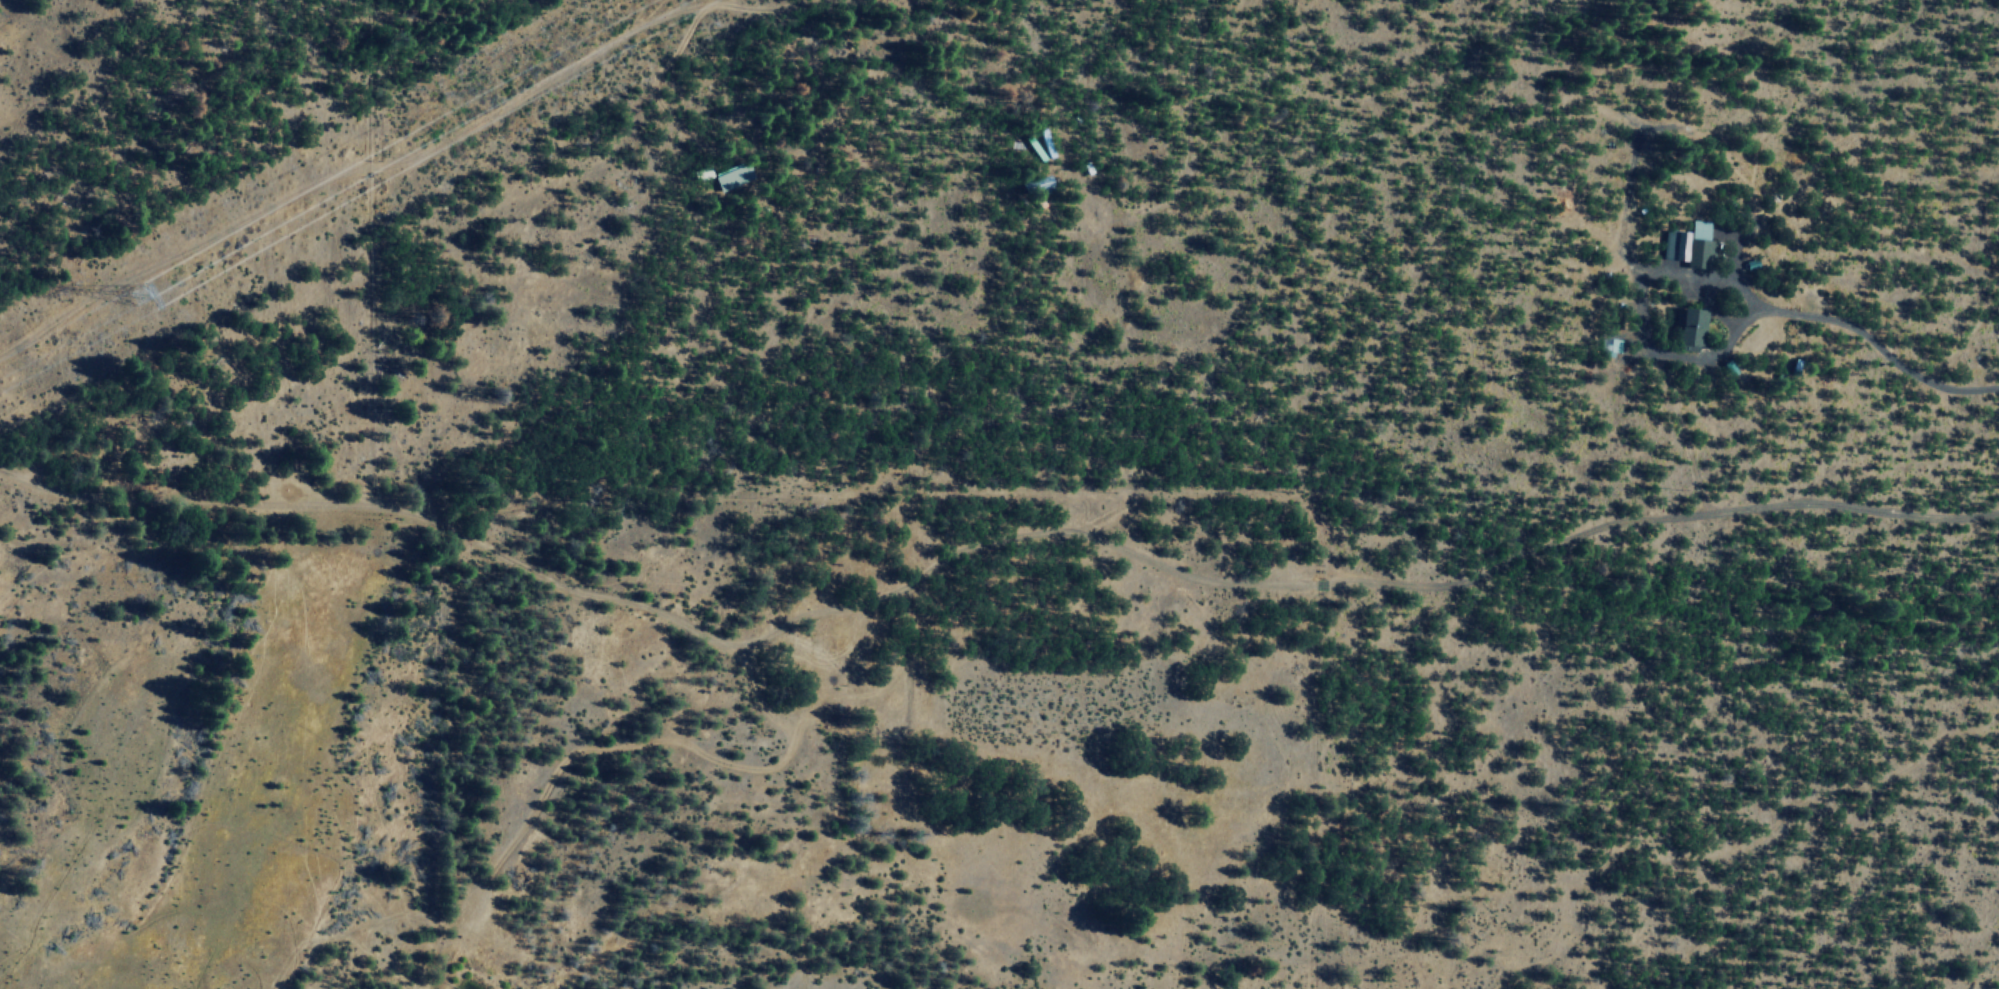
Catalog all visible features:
building: (1690, 245)
power tower: (147, 288)
building: (1693, 328)
building: (1610, 344)
road: (983, 544)
road: (754, 697)
road: (697, 751)

